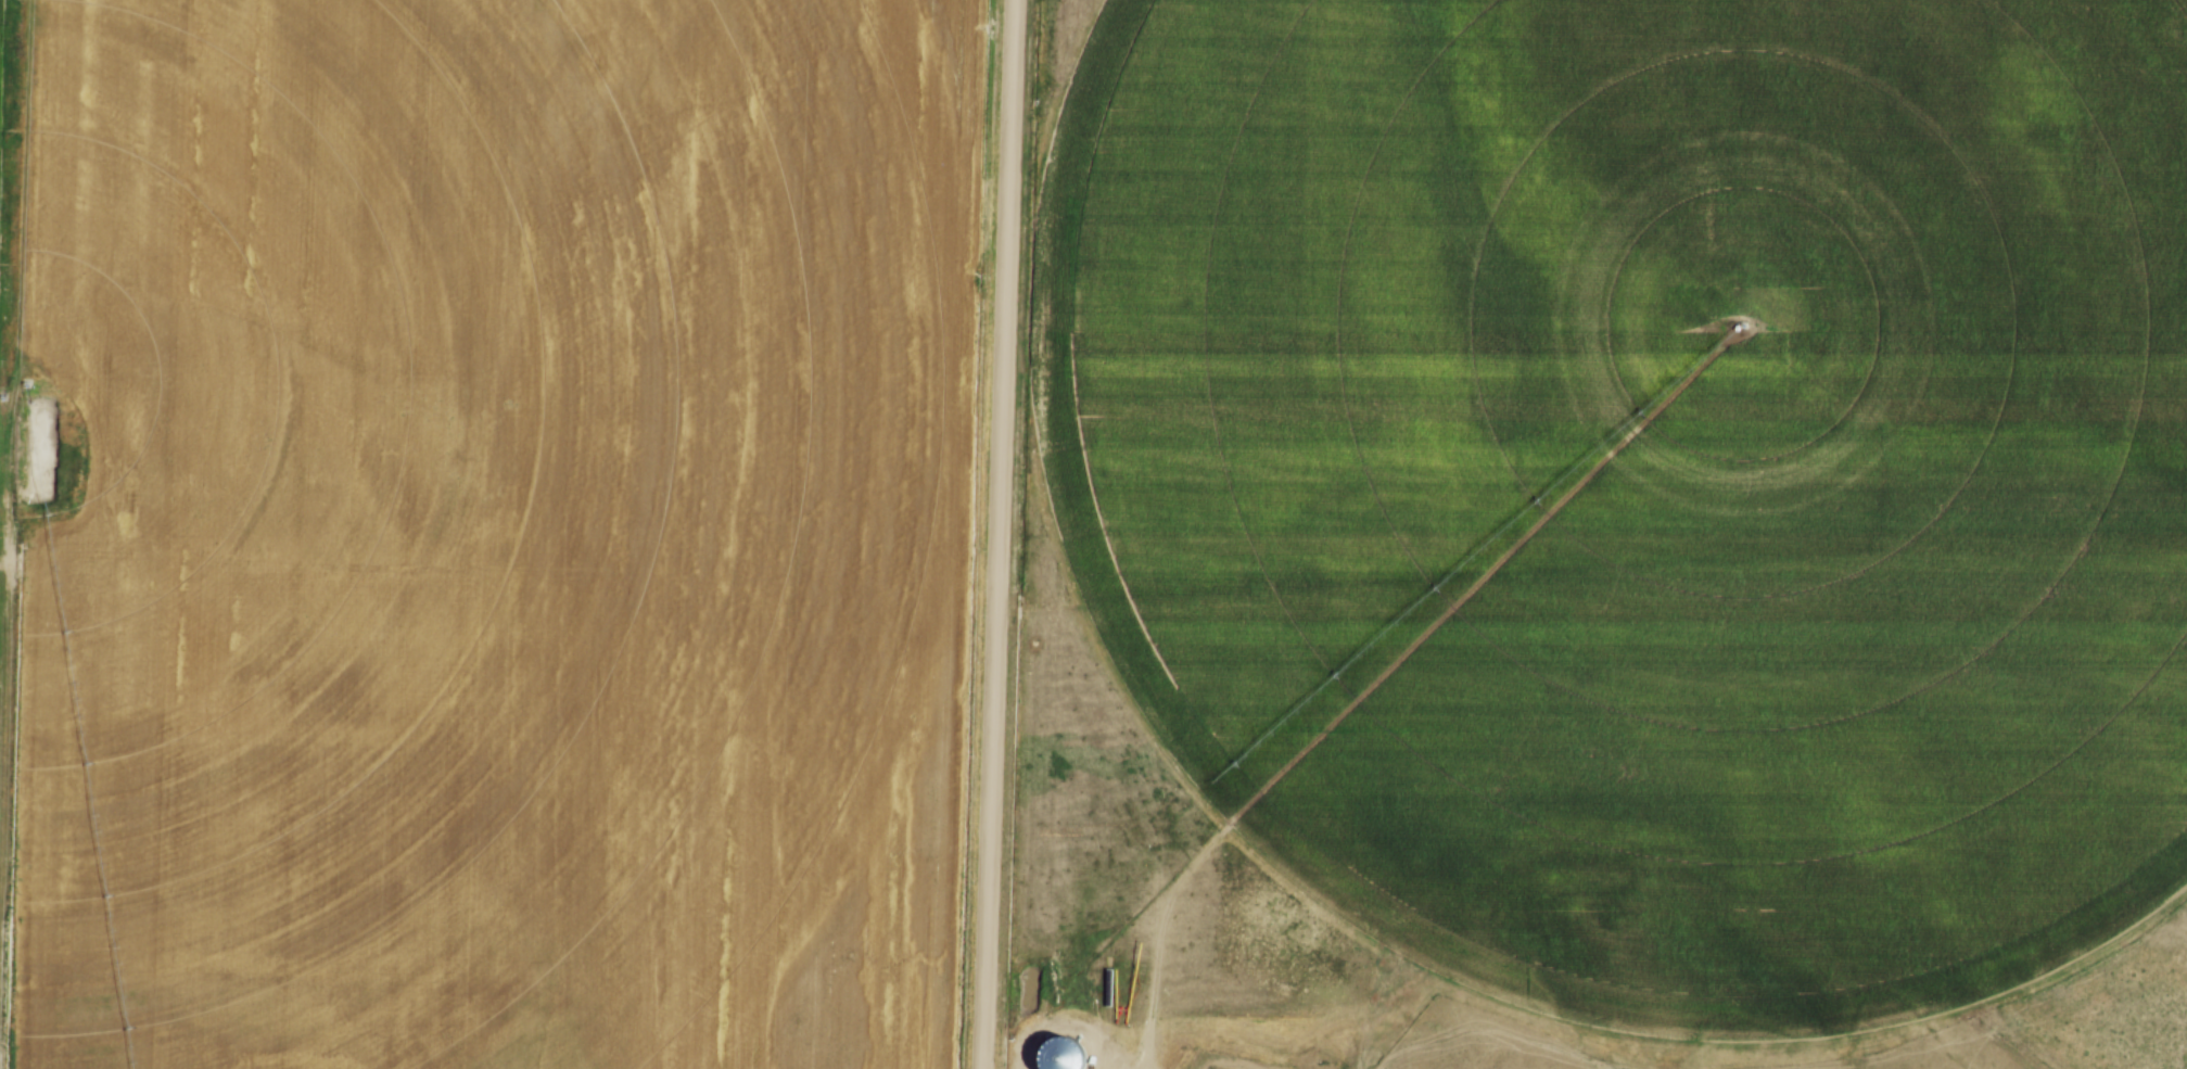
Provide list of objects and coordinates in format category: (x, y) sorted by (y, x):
crop: (1636, 476)
crop: (482, 532)
road: (987, 534)
building: (1058, 1056)
silo: (1058, 1056)

